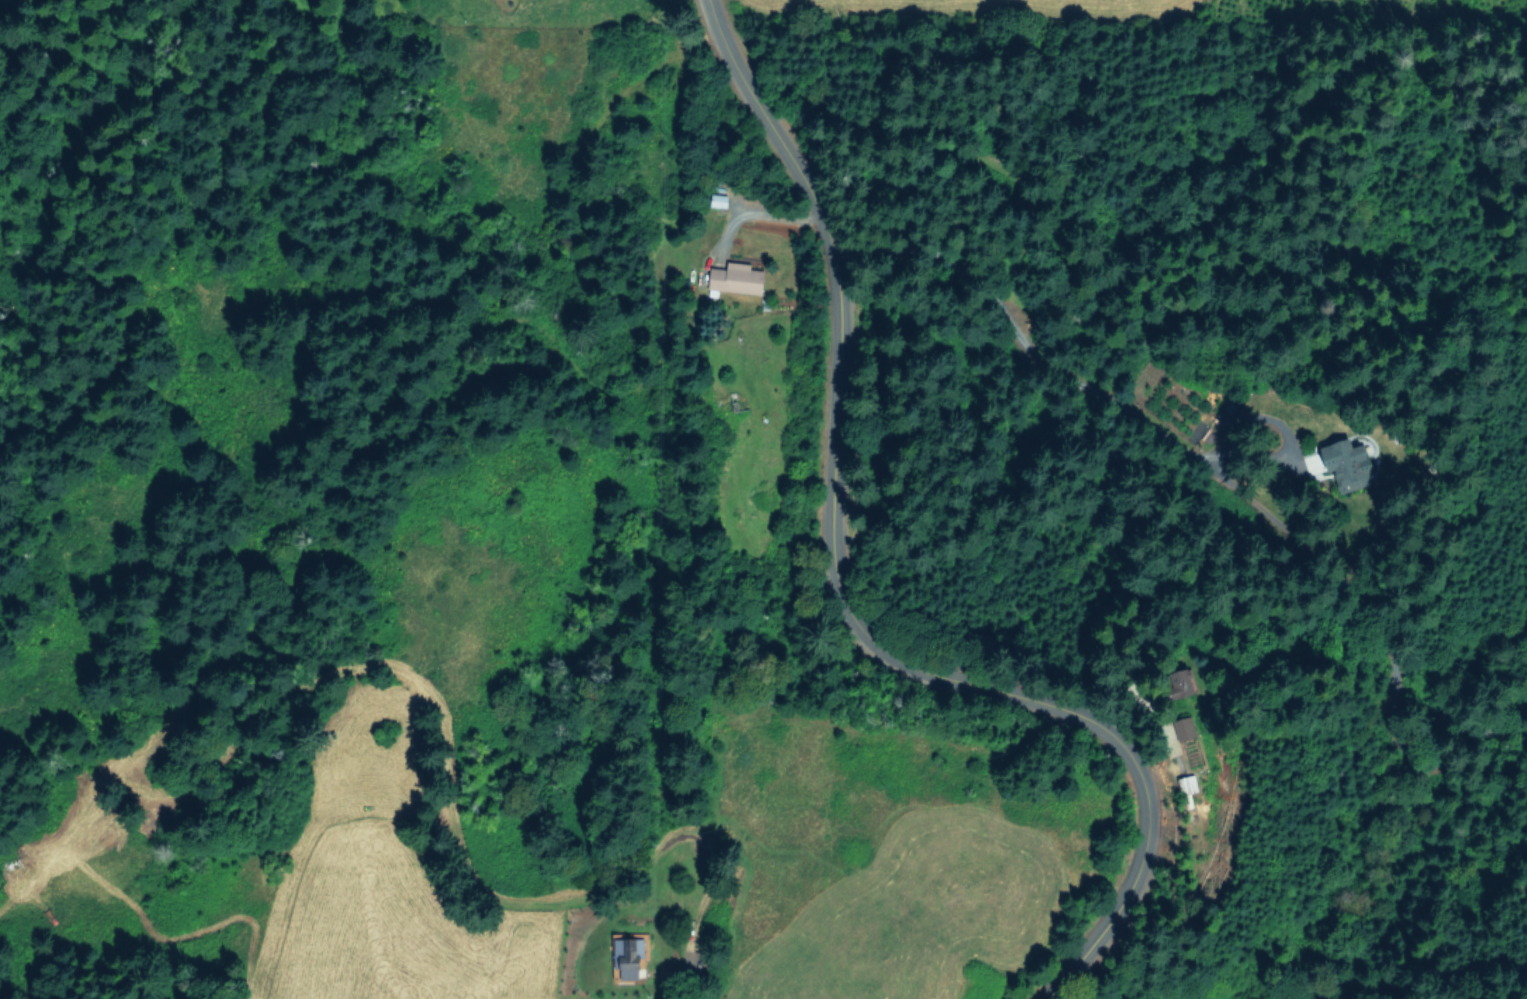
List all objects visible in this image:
building: (738, 277)
building: (1351, 462)
road: (836, 588)
building: (629, 956)

